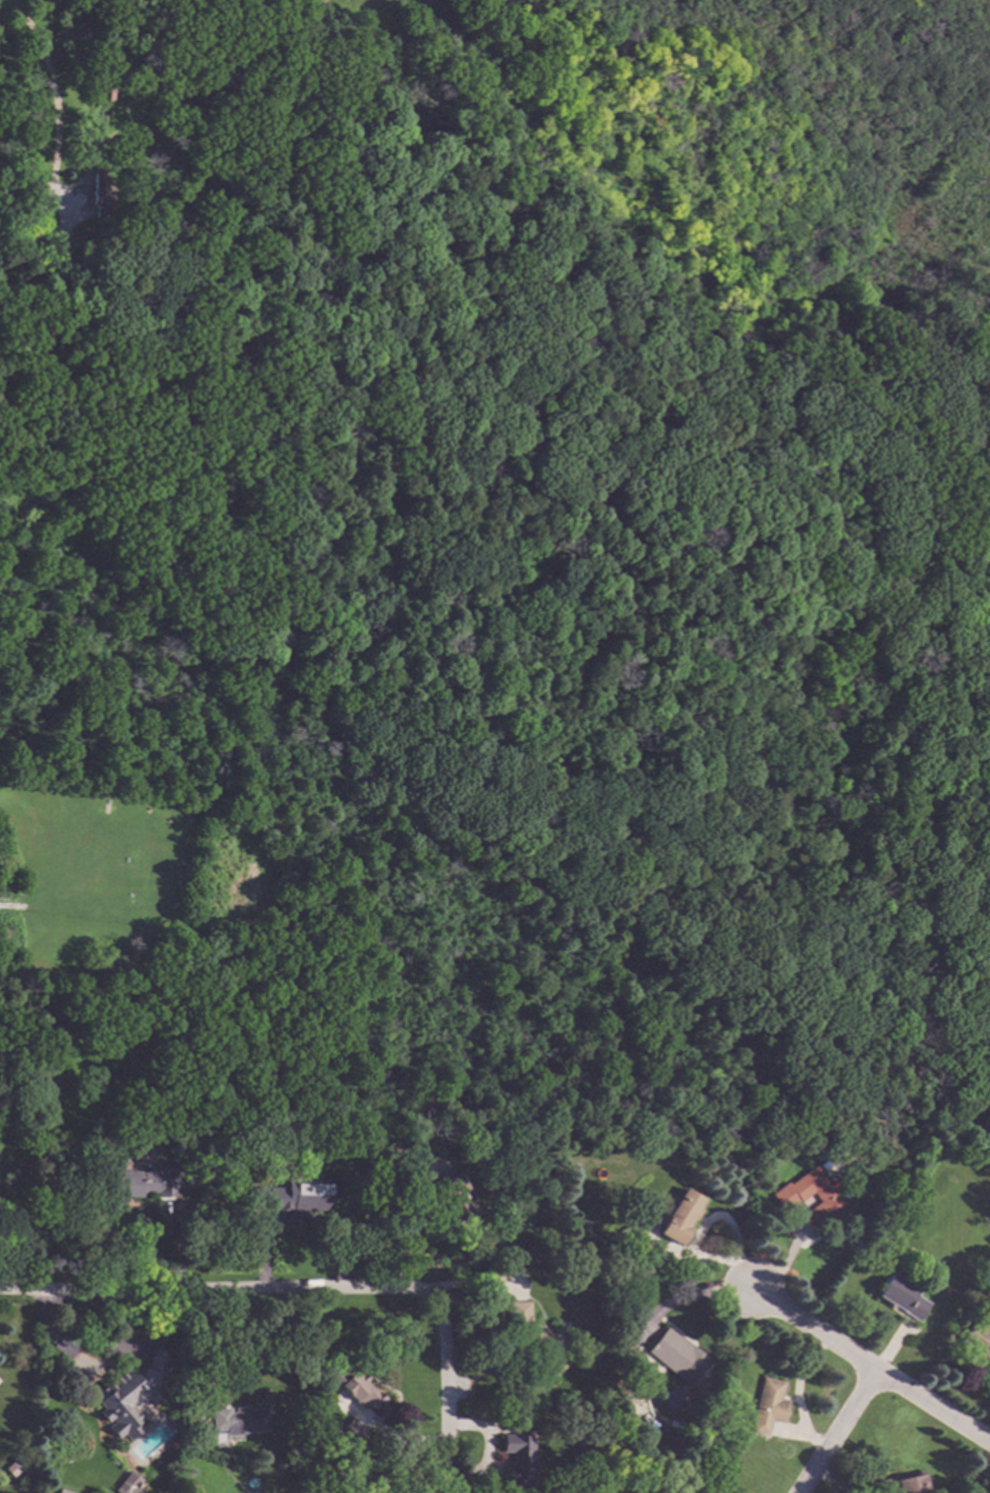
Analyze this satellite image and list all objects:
road: (316, 5)
building: (105, 86)
road: (52, 101)
road: (297, 145)
road: (91, 150)
road: (452, 170)
building: (99, 196)
road: (60, 212)
road: (9, 263)
road: (208, 291)
road: (58, 308)
road: (622, 321)
road: (352, 364)
road: (446, 537)
park: (494, 570)
road: (295, 716)
road: (147, 723)
road: (337, 791)
road: (94, 792)
park: (125, 857)
road: (613, 872)
road: (229, 898)
road: (597, 1020)
road: (980, 1108)
building: (63, 1150)
building: (90, 1150)
building: (771, 1155)
building: (149, 1182)
building: (294, 1195)
building: (454, 1196)
building: (787, 1196)
building: (678, 1216)
road: (297, 1223)
building: (642, 1246)
building: (494, 1274)
road: (216, 1290)
building: (950, 1291)
building: (902, 1296)
road: (683, 1297)
building: (535, 1339)
building: (978, 1340)
road: (200, 1346)
building: (676, 1355)
road: (870, 1366)
building: (354, 1385)
road: (444, 1392)
building: (131, 1394)
building: (767, 1405)
building: (239, 1420)
building: (353, 1430)
road: (839, 1432)
building: (187, 1439)
building: (300, 1449)
building: (518, 1457)
building: (12, 1467)
building: (129, 1484)
building: (903, 1484)
building: (63, 1491)

